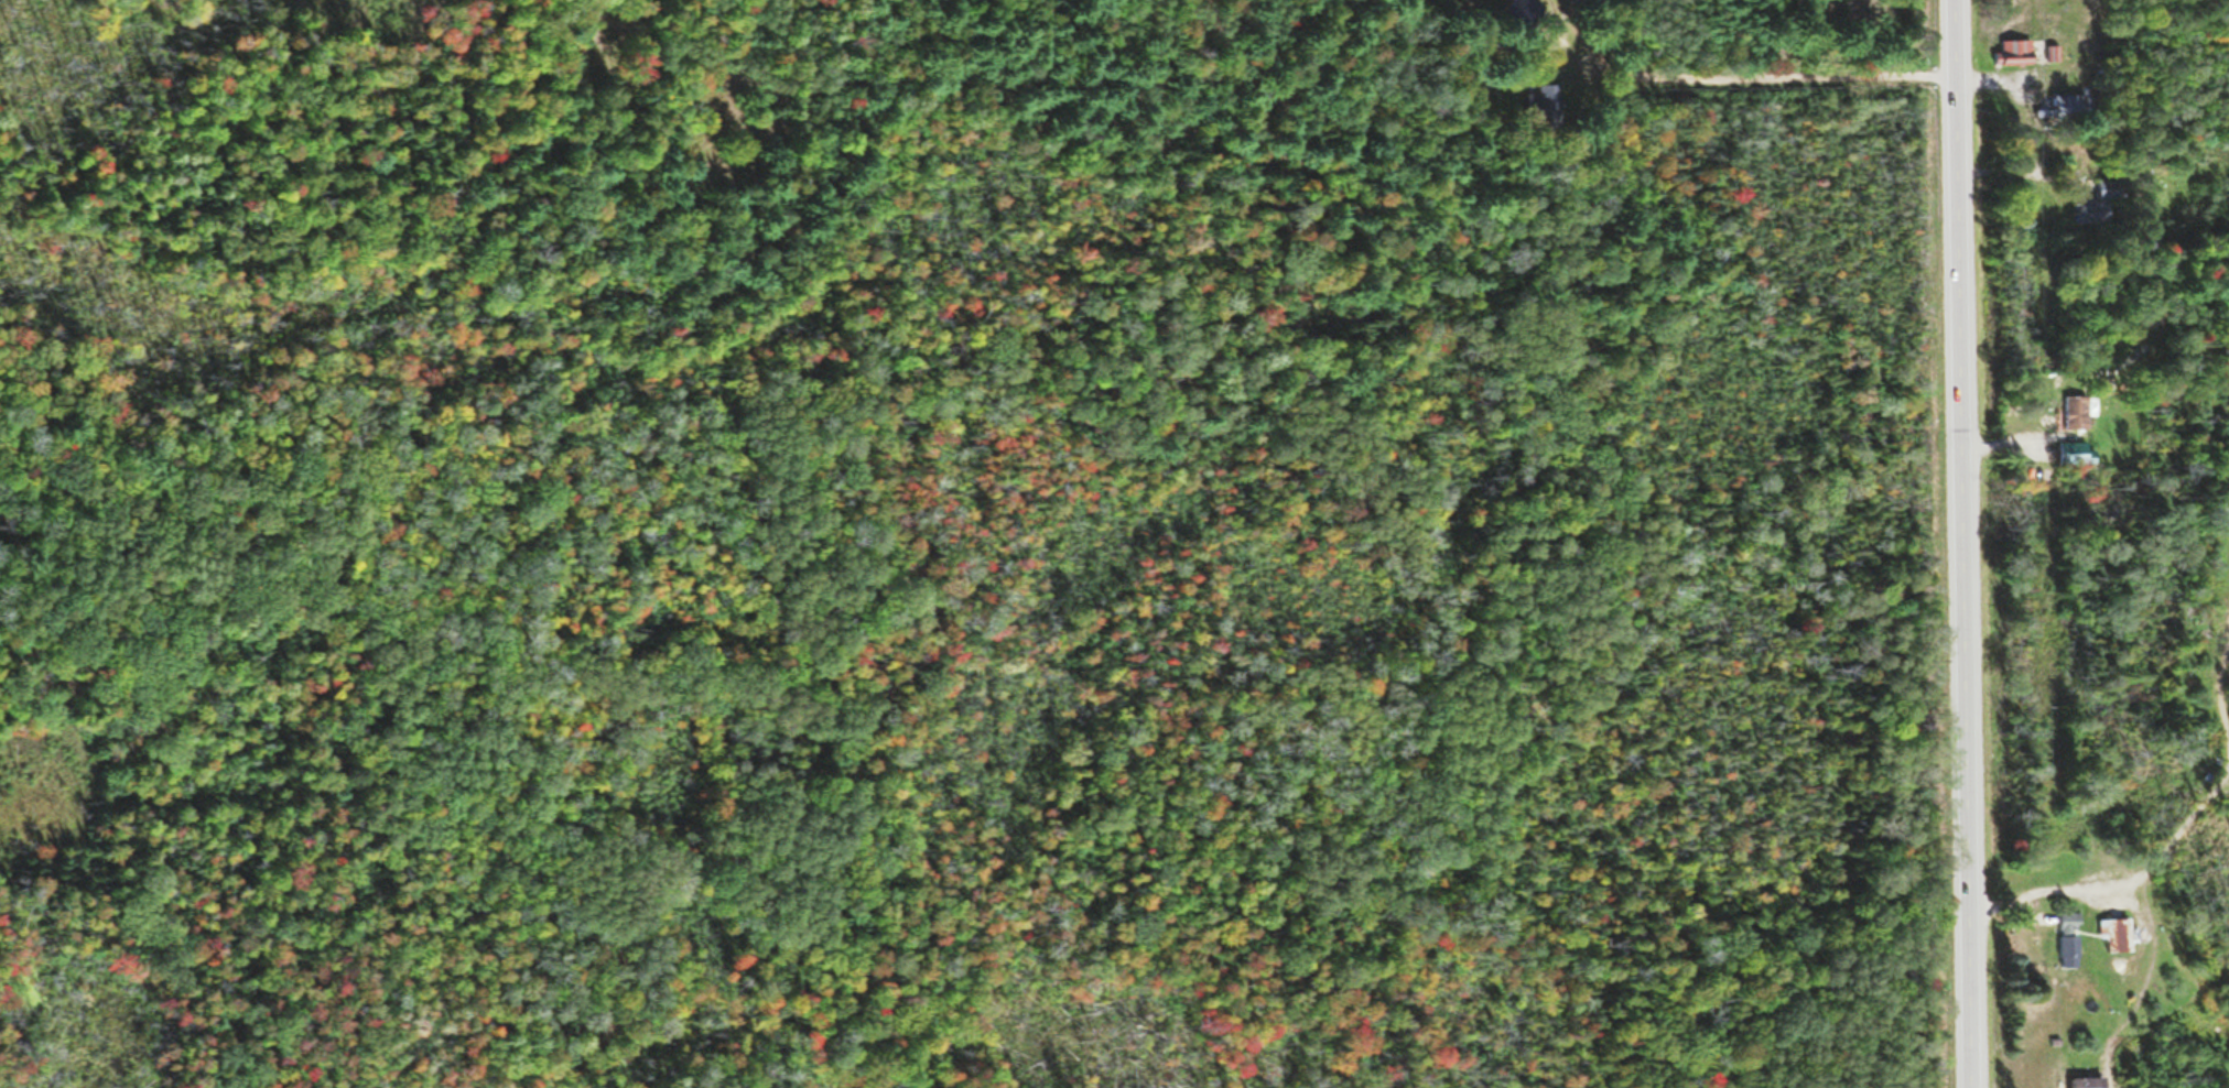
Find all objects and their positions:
building: (1521, 21)
building: (2017, 52)
building: (2098, 204)
building: (2079, 413)
building: (2076, 454)
road: (1970, 544)
building: (2117, 936)
building: (2068, 939)
building: (2090, 1082)

